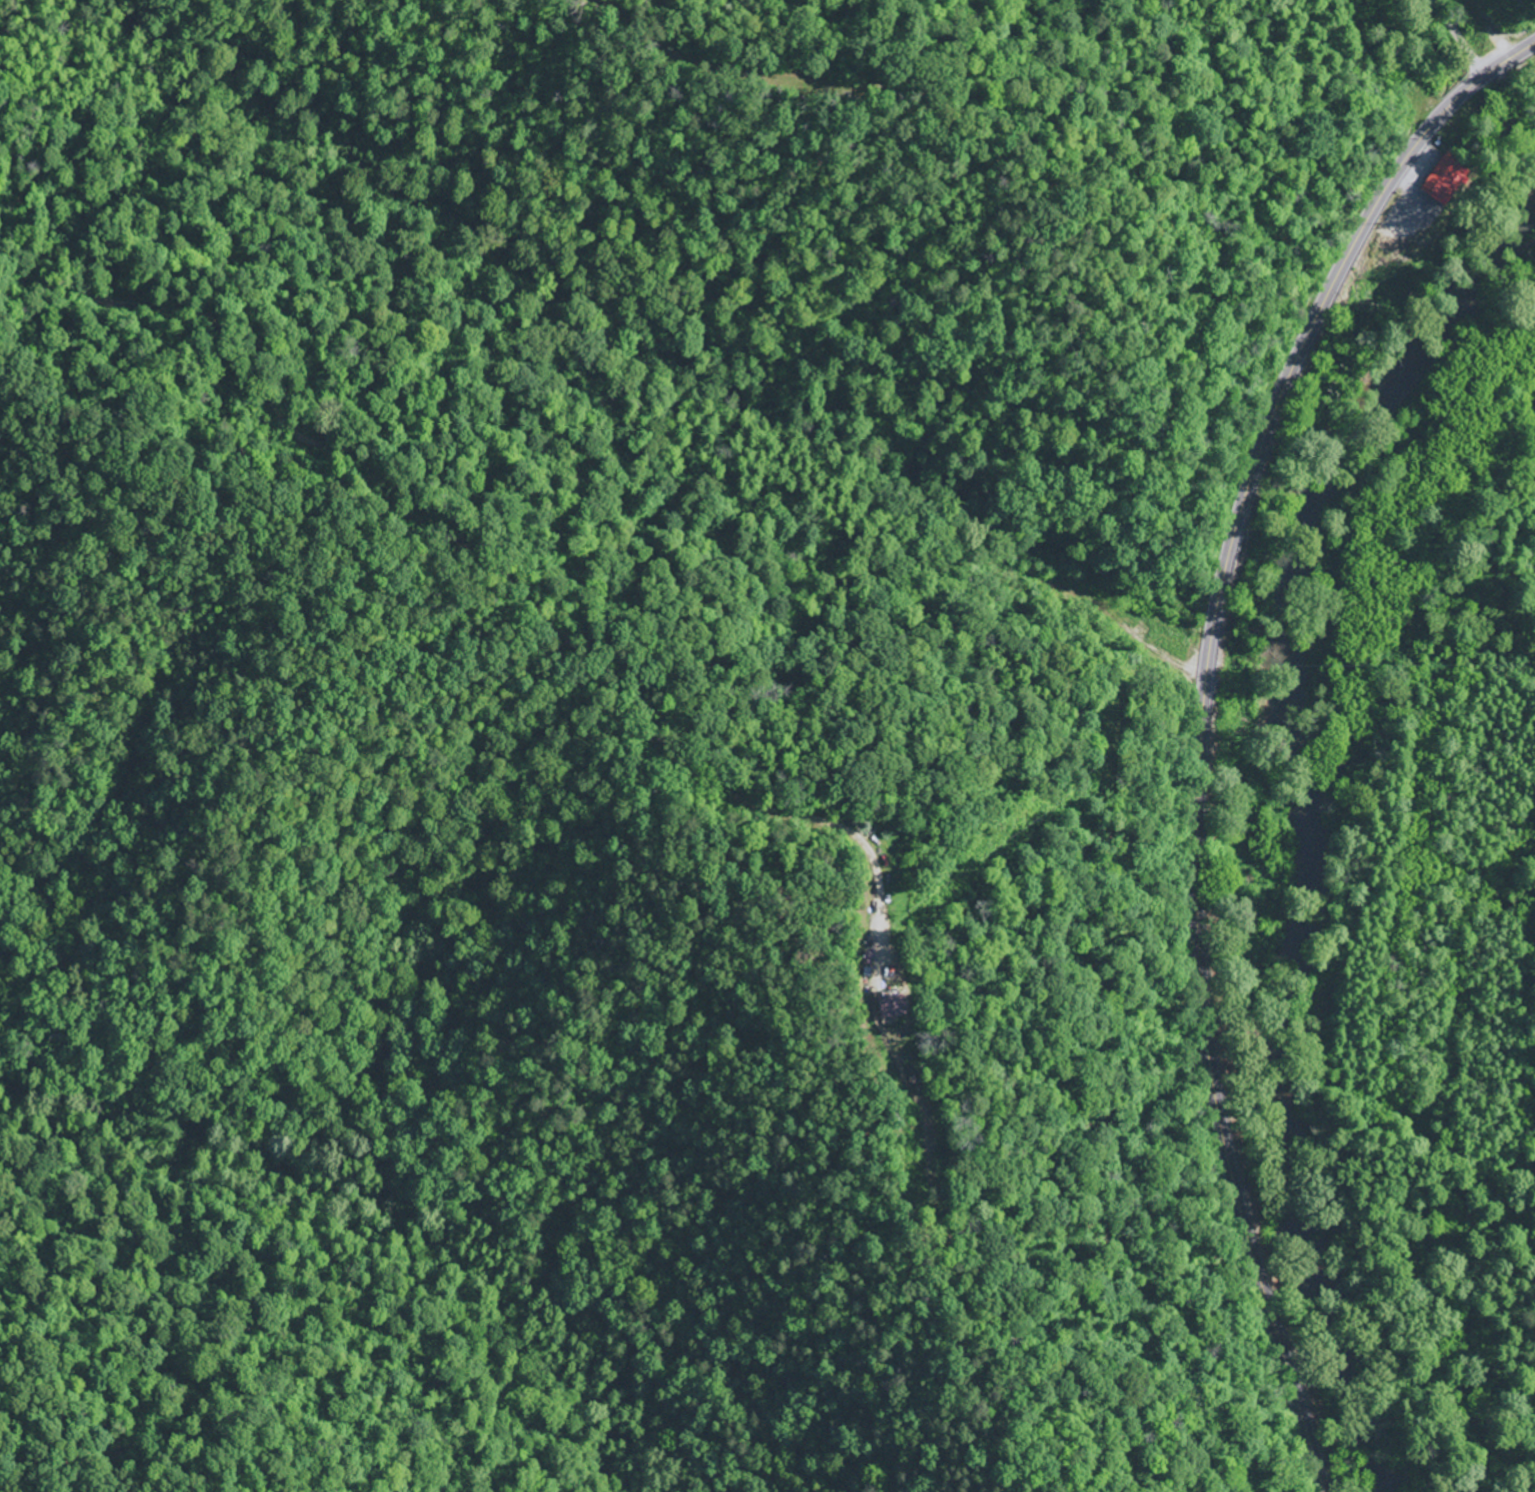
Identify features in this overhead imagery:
road: (1457, 38)
road: (710, 62)
building: (1450, 179)
road: (449, 551)
road: (1207, 725)
building: (895, 1008)

